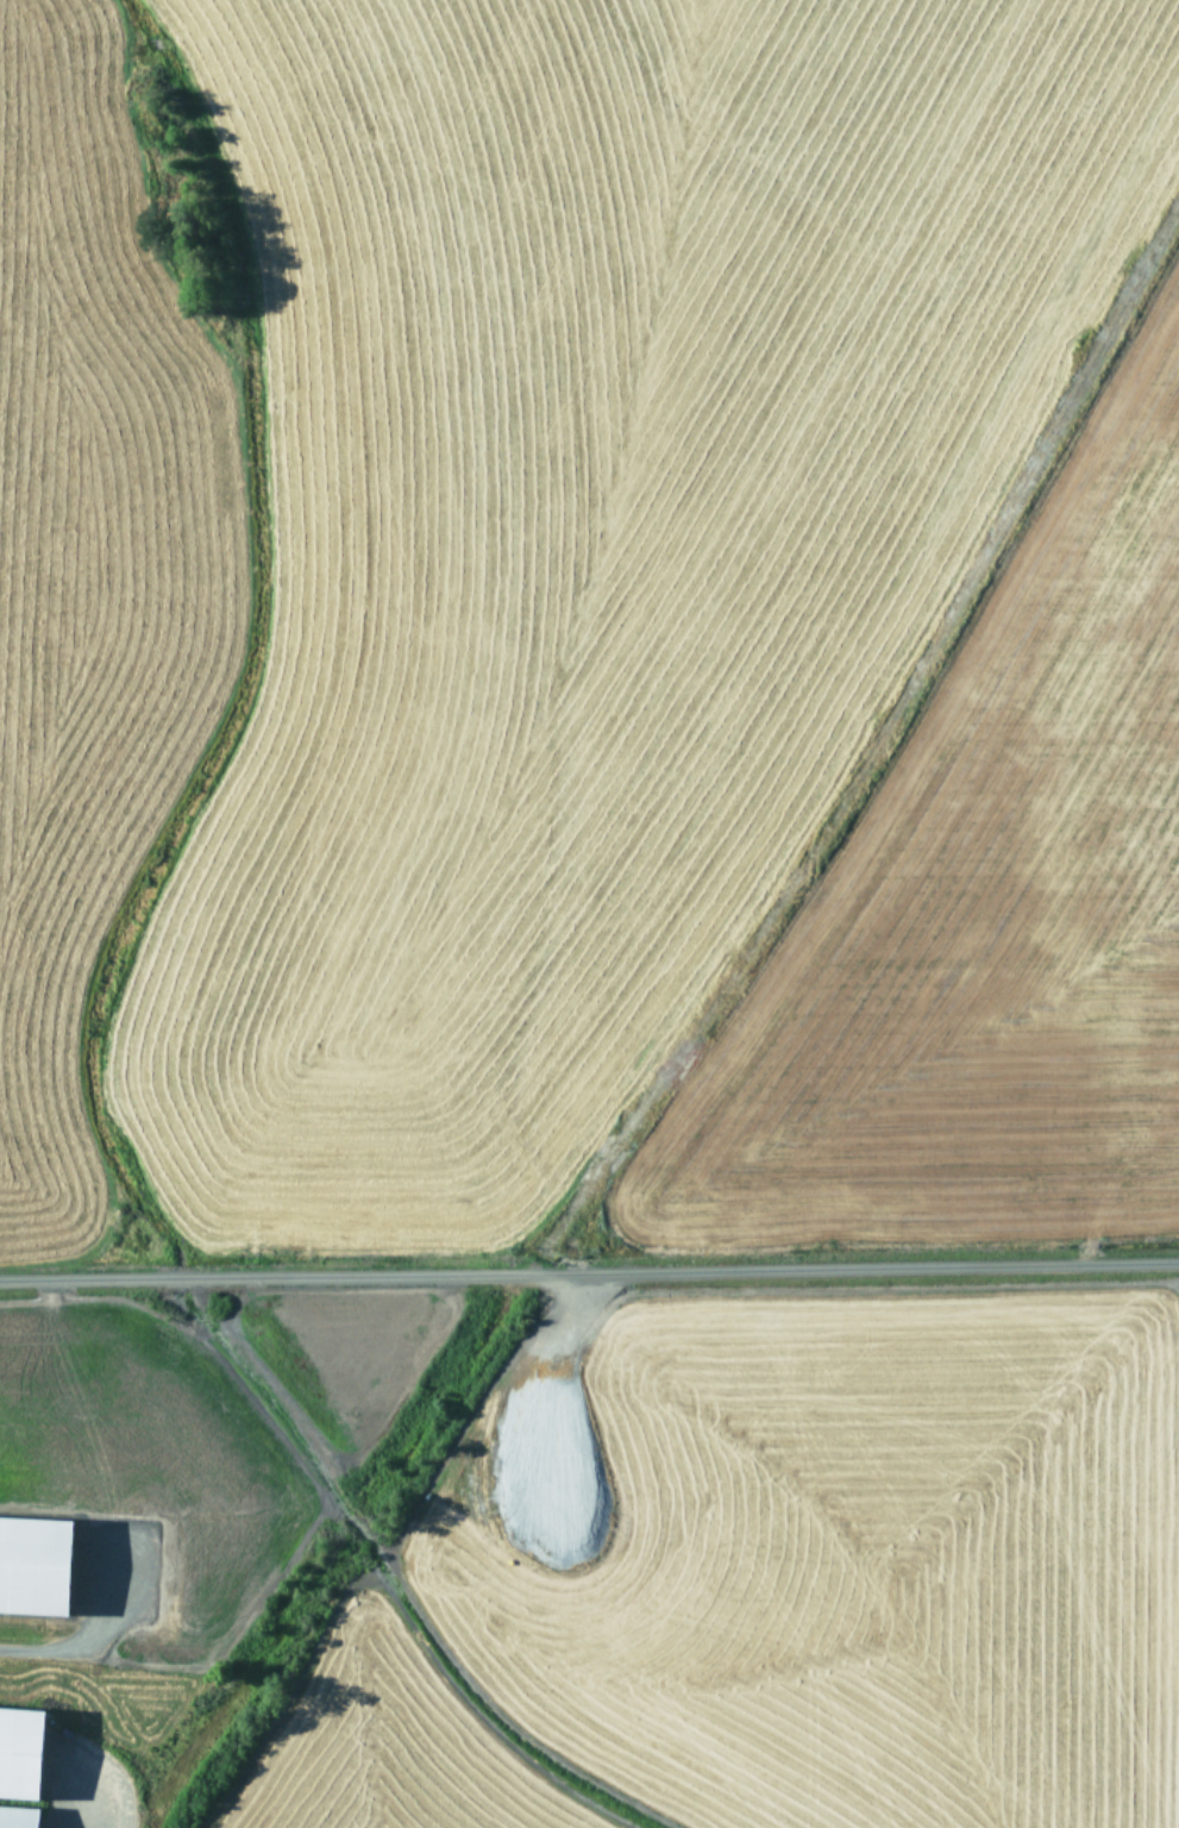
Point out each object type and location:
crop: (589, 914)
road: (589, 1269)
building: (31, 1565)
building: (17, 1749)
building: (15, 1816)

